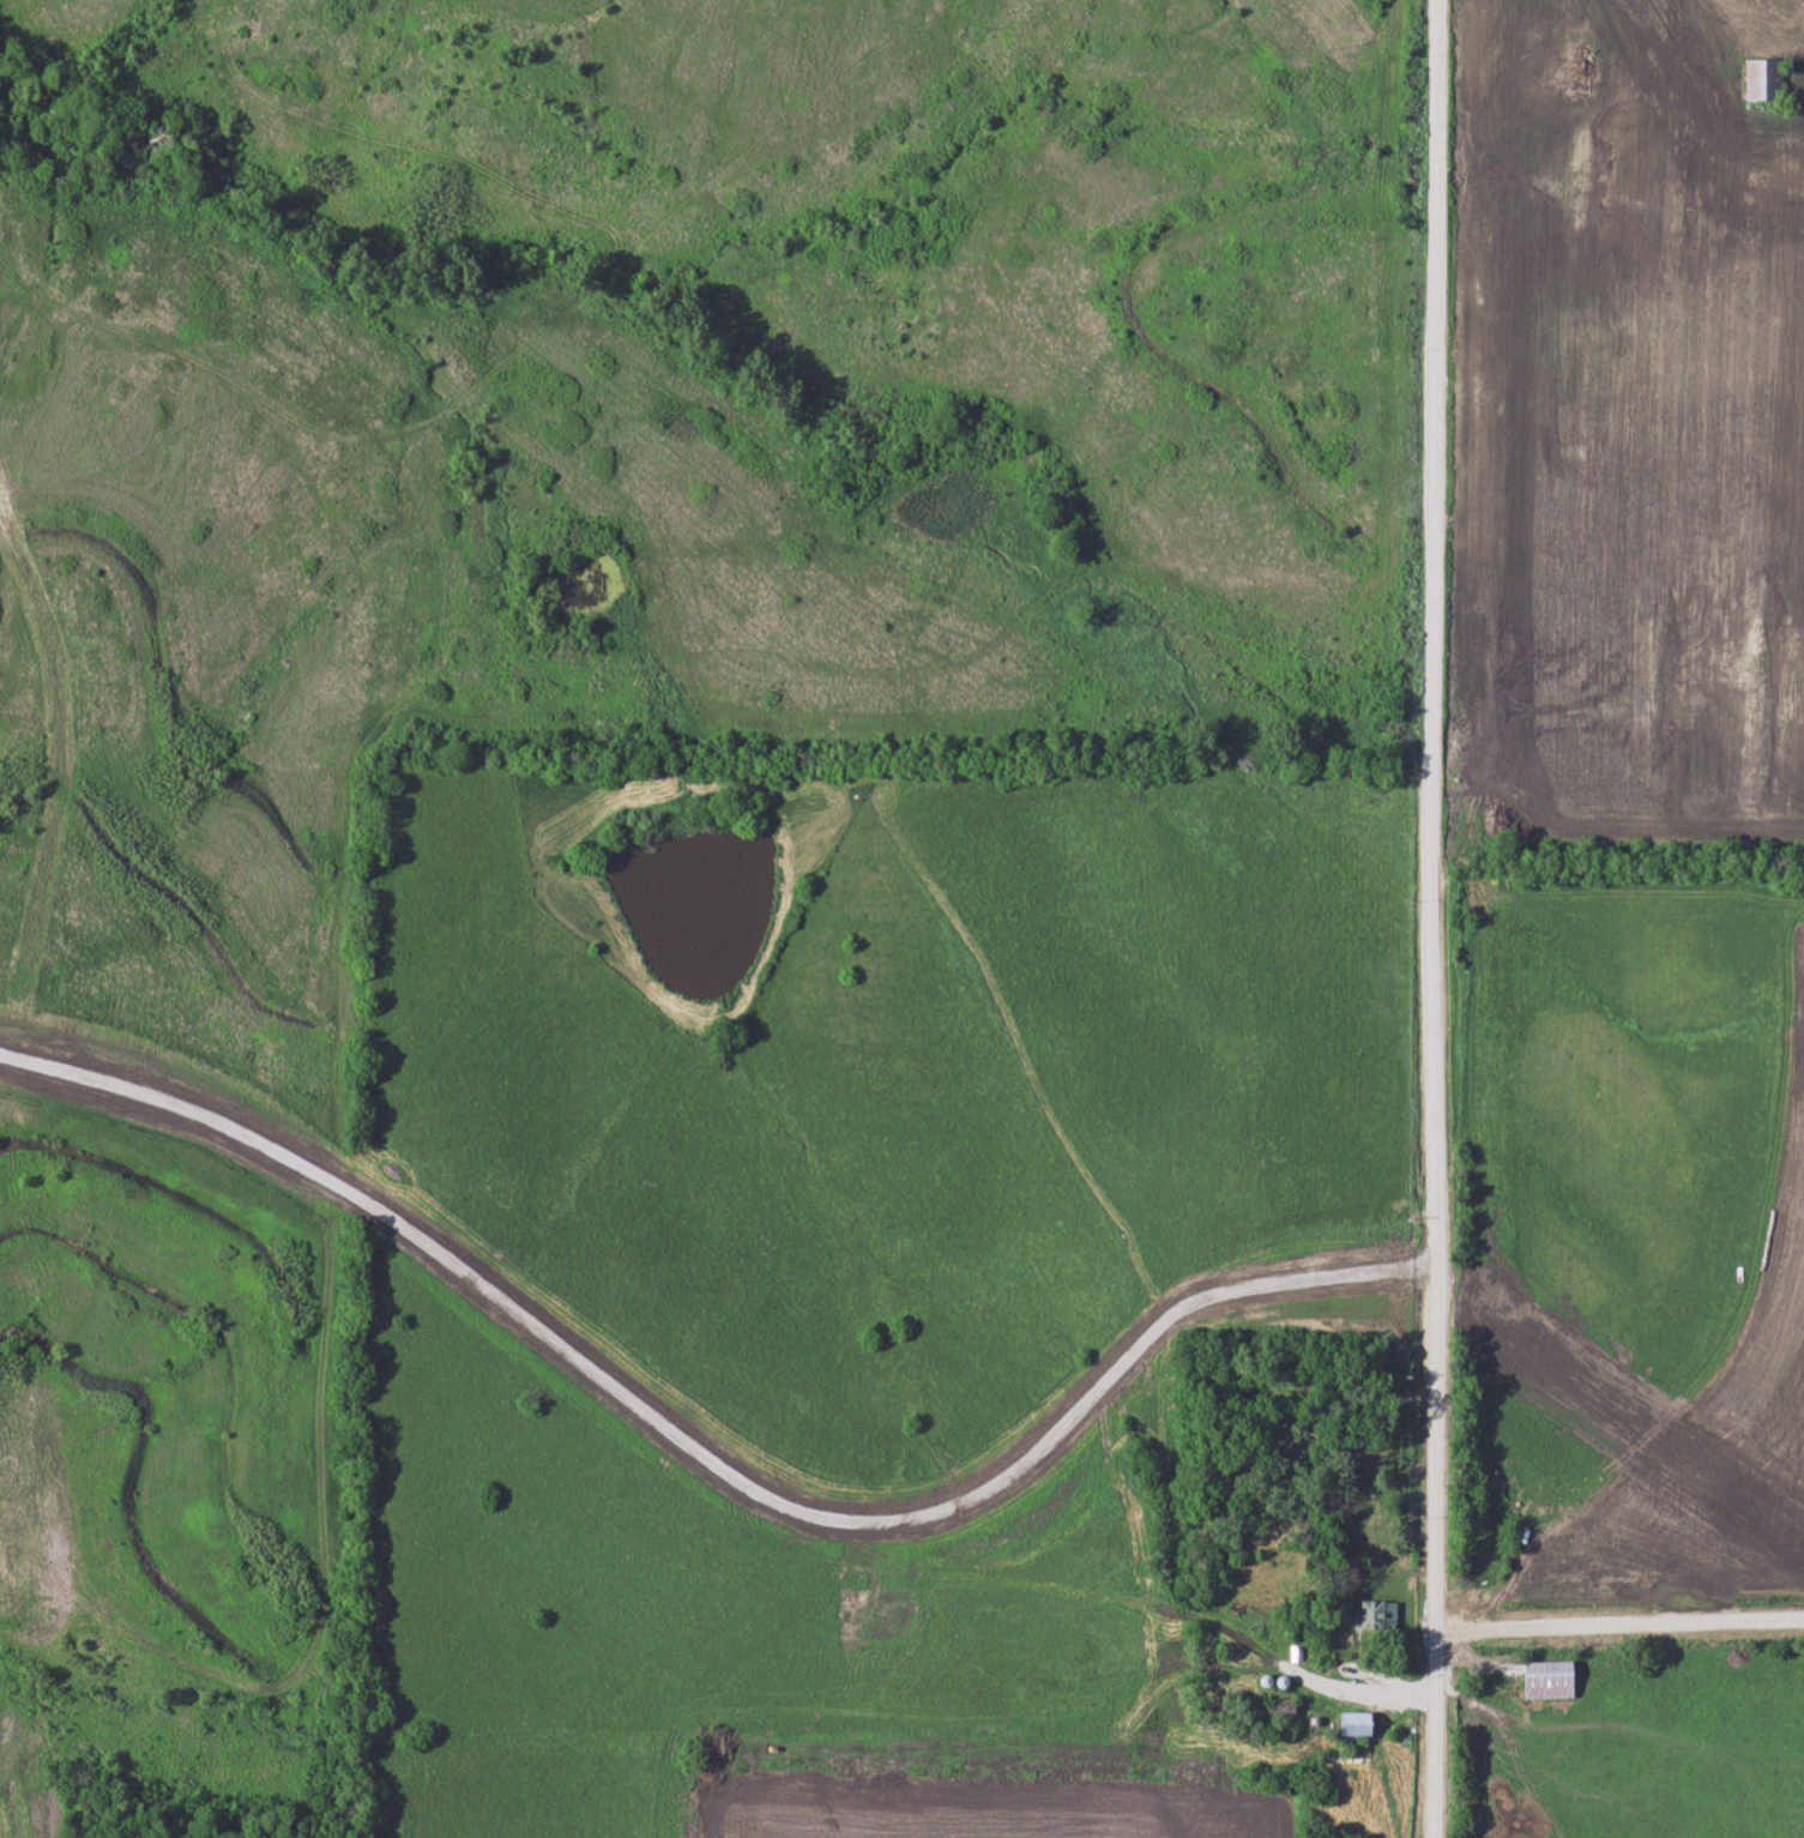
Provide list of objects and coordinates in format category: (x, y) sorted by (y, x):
building: (1581, 78)
building: (1764, 78)
road: (1434, 918)
building: (1381, 1615)
road: (1617, 1625)
building: (1553, 1679)
building: (1360, 1723)

